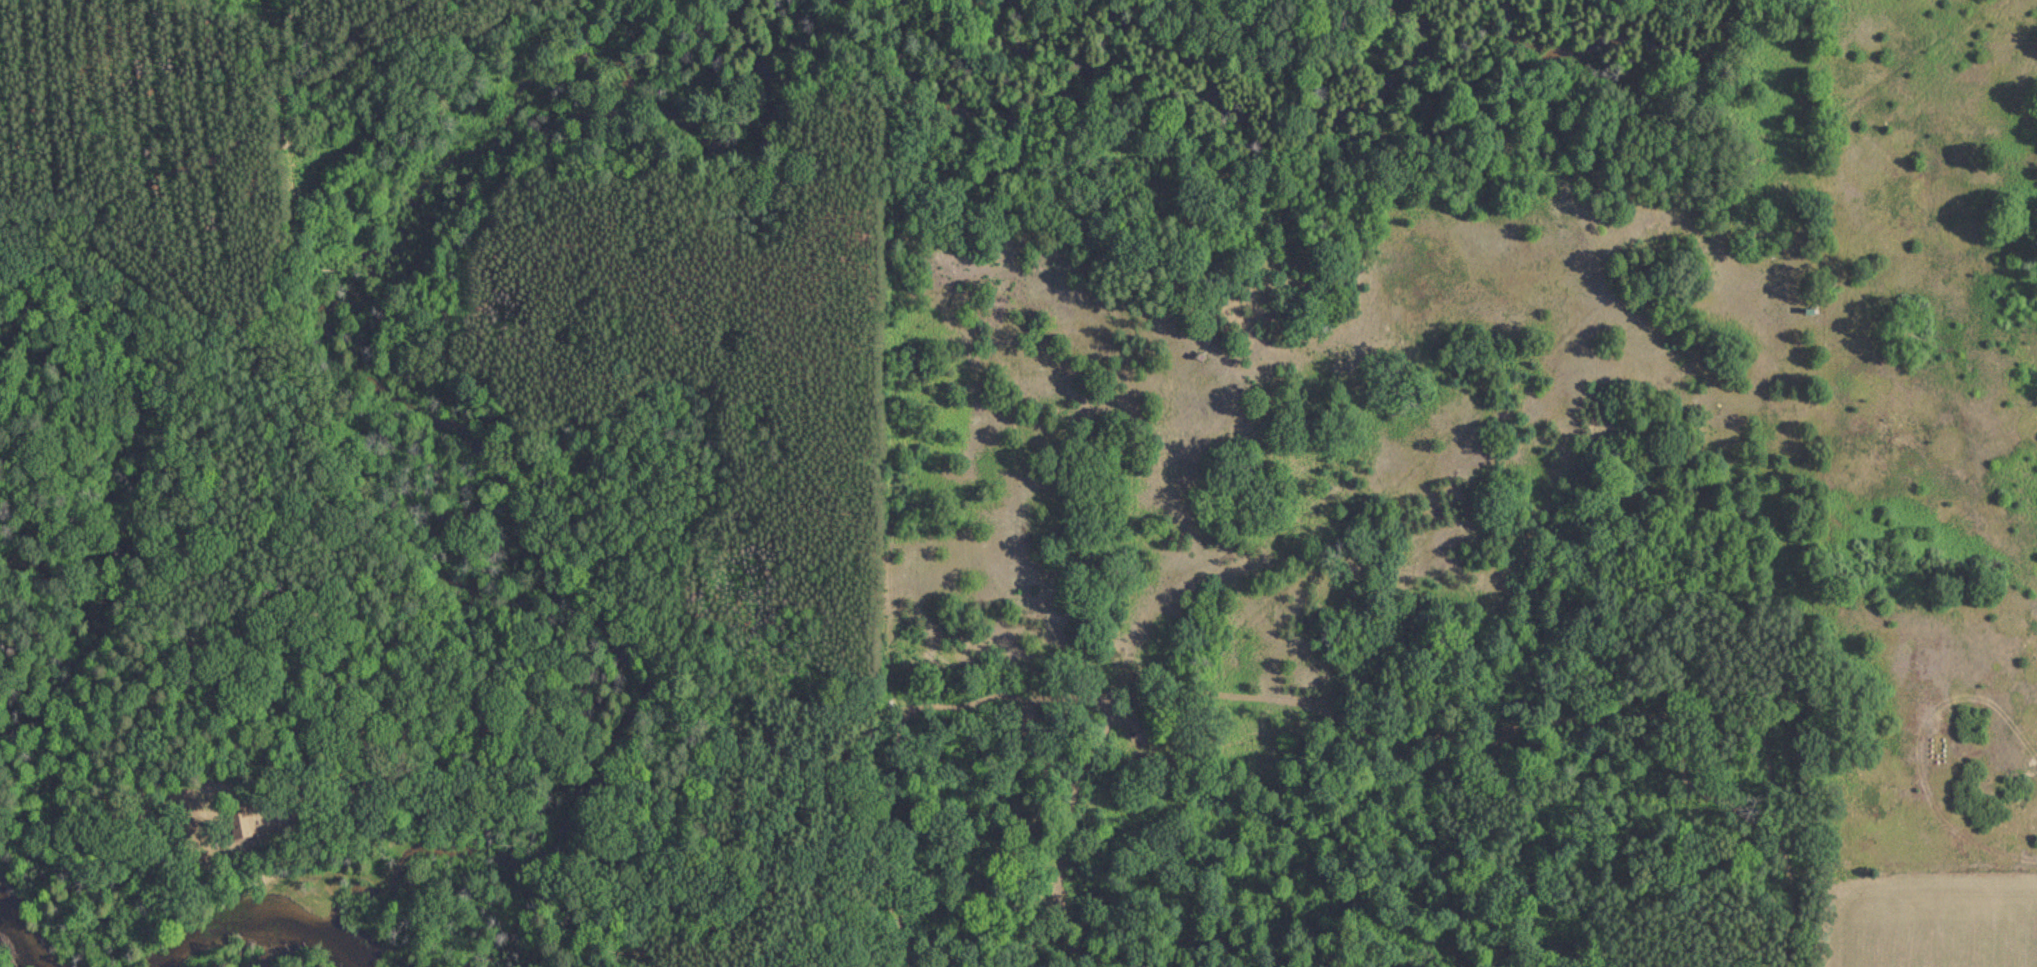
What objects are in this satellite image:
river: (255, 922)
river: (24, 946)

